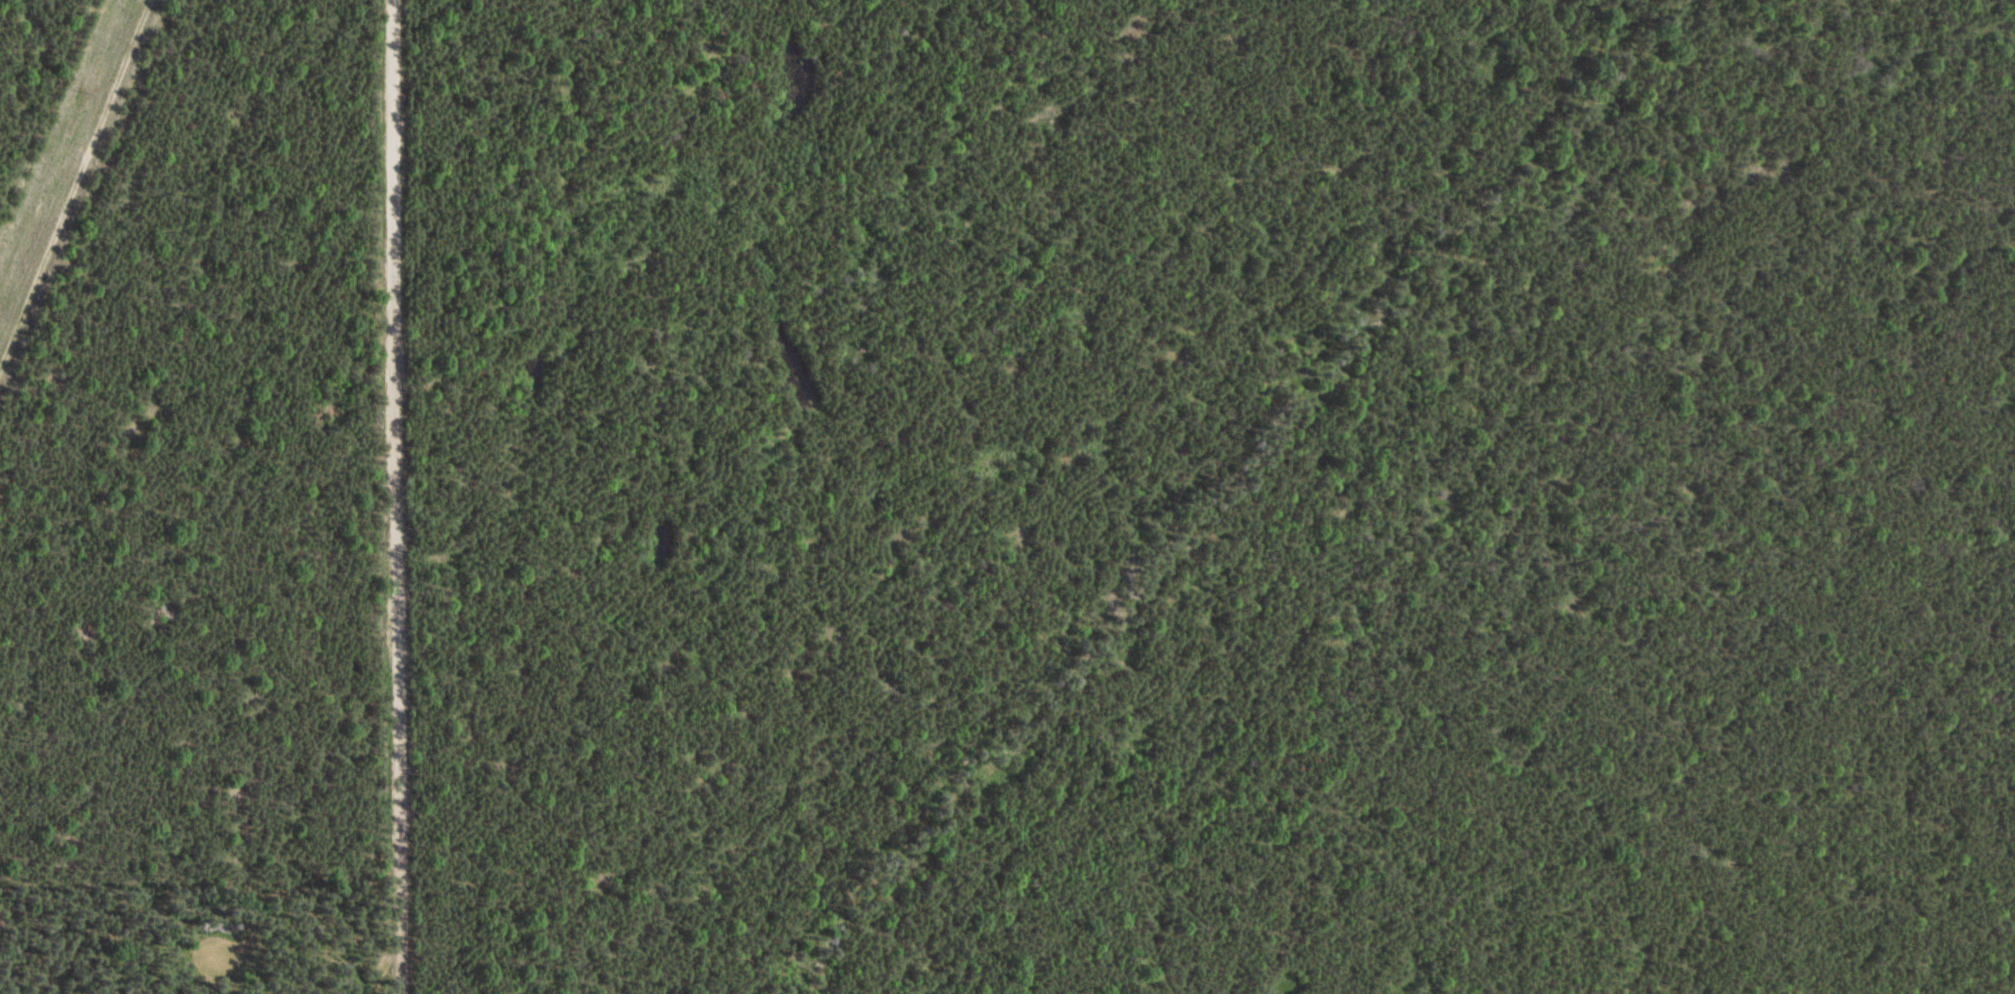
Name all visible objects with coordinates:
road: (73, 186)
road: (399, 497)

